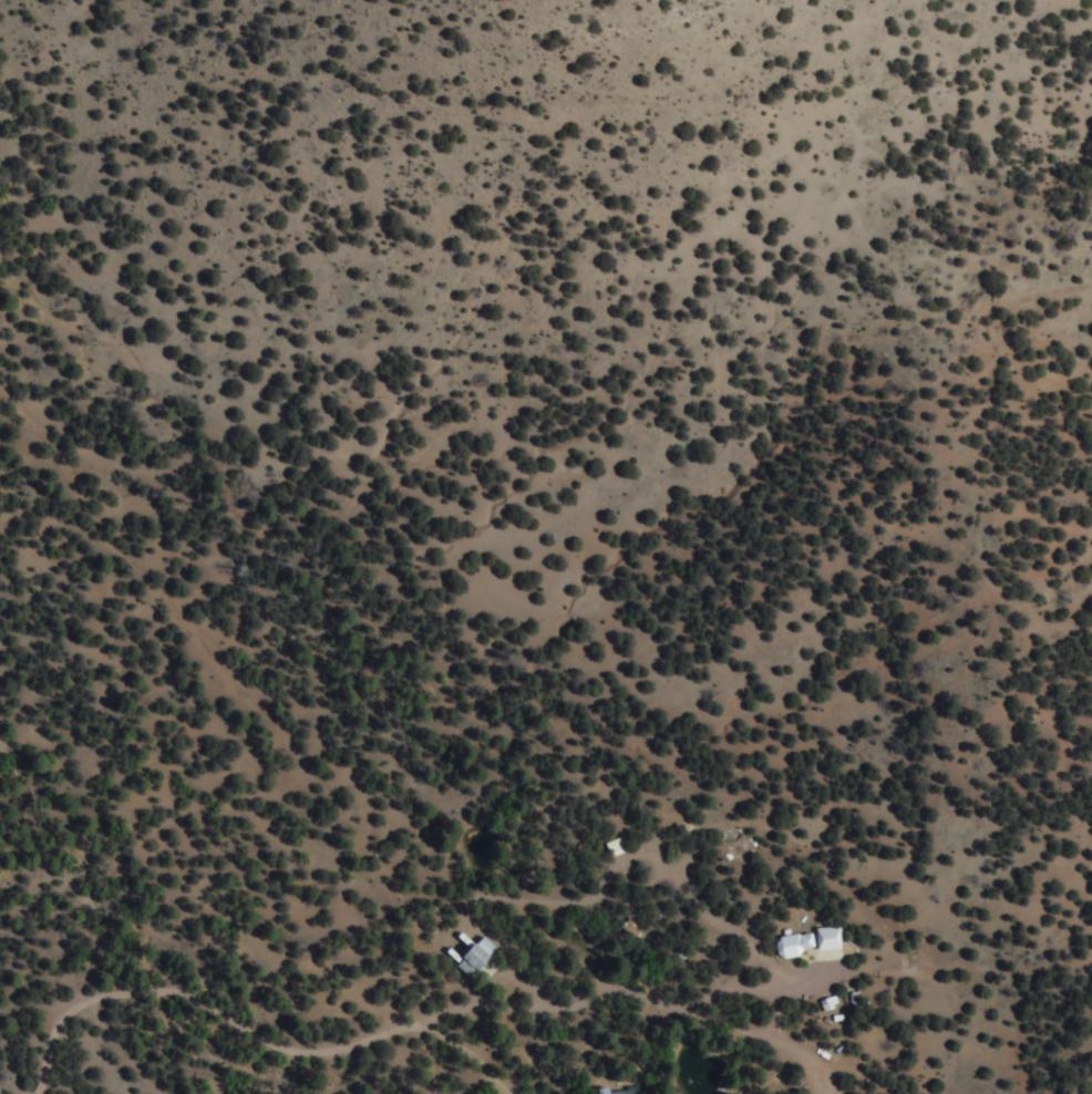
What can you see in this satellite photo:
building: (624, 847)
building: (820, 945)
building: (483, 957)
building: (617, 1091)

